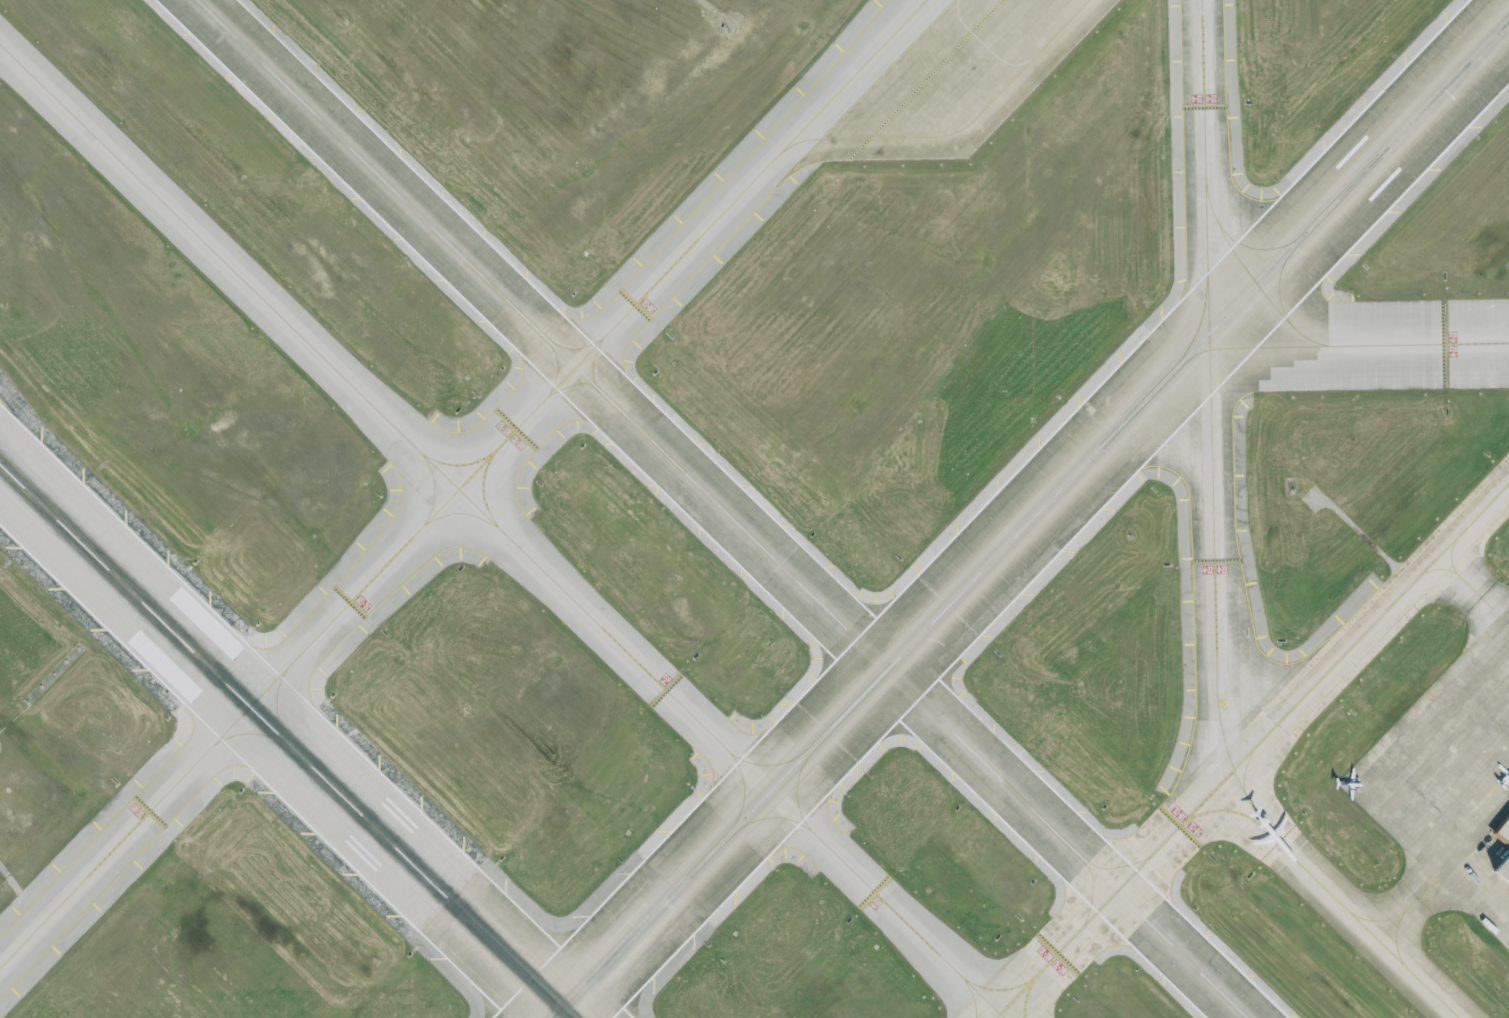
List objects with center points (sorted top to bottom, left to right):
airport apron: (983, 78)
airport taxiway: (960, 129)
airport taxiway: (1266, 249)
airport taxiway: (1279, 269)
airport taxiway: (1254, 282)
airport taxiway: (1201, 308)
airport taxiway: (1359, 344)
airport taxiway: (1188, 359)
airport taxiway: (457, 464)
airport taxiway: (466, 486)
airport taxiway: (433, 490)
airport taxiway: (482, 493)
airport runway: (721, 508)
airport: (754, 509)
airport taxiway: (462, 514)
airport runway: (1031, 518)
airport taxiway: (502, 531)
airport taxiway: (1214, 554)
airport taxiway: (1474, 584)
airport runway: (285, 741)
airport taxiway: (802, 749)
airport taxiway: (1252, 751)
airport taxiway: (810, 755)
airport taxiway: (1244, 772)
airport apron: (1452, 781)
airport taxiway: (741, 808)
airport taxiway: (1226, 810)
airport taxiway: (752, 822)
building: (1501, 852)
airport taxiway: (1406, 908)
airport taxiway: (998, 989)
airport taxiway: (972, 995)
airport taxiway: (1027, 996)

